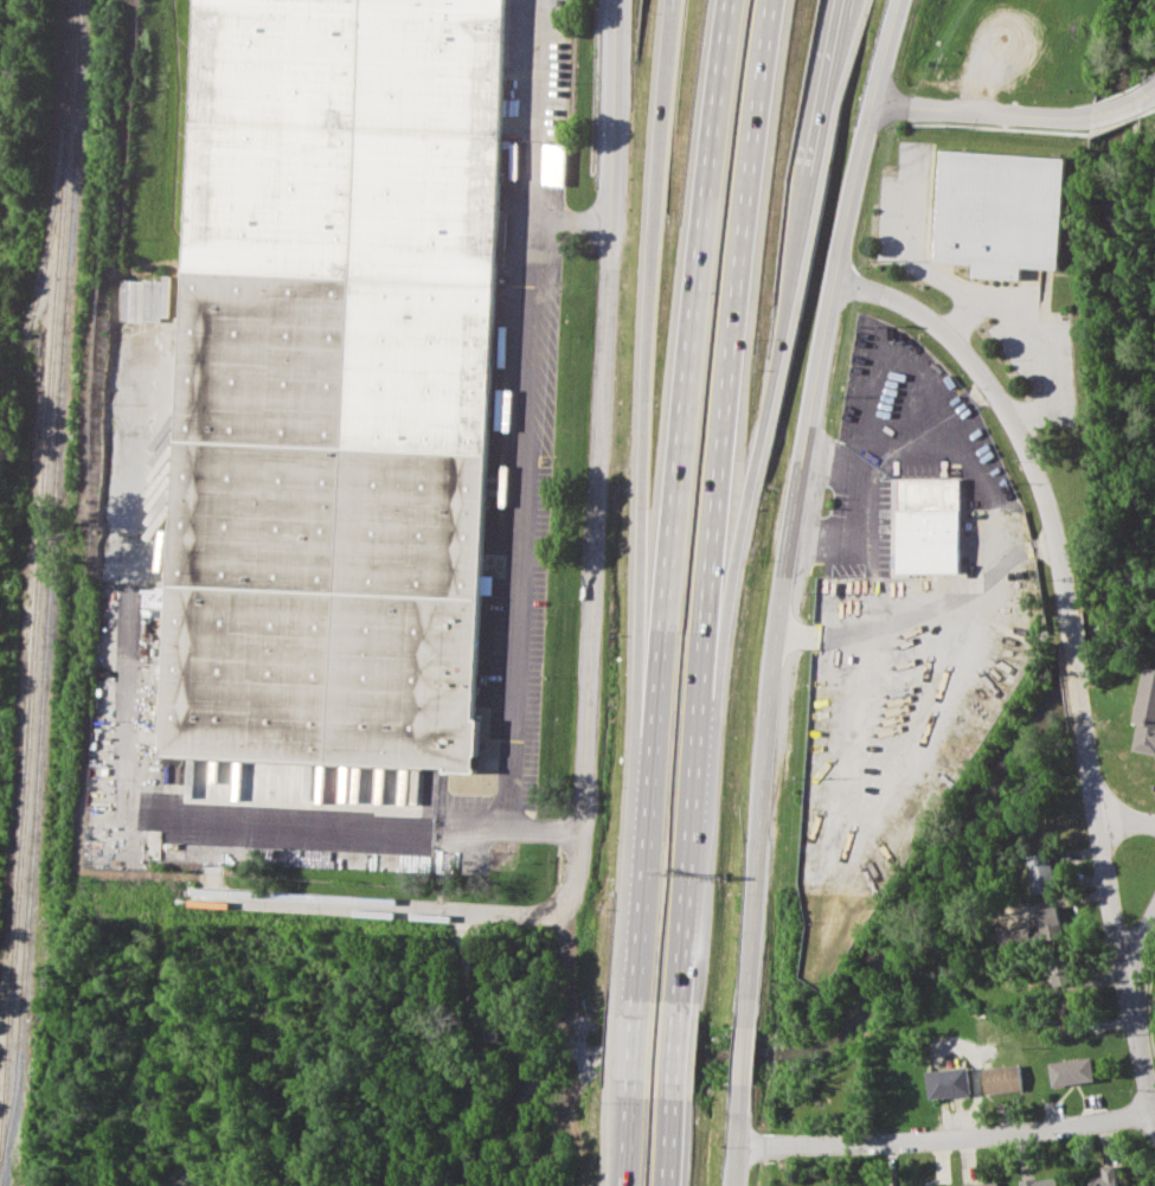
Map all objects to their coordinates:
road: (845, 17)
road: (1150, 84)
road: (1118, 101)
road: (982, 109)
building: (995, 206)
road: (566, 220)
railway: (39, 271)
road: (686, 314)
road: (727, 314)
road: (1037, 334)
building: (332, 380)
road: (1002, 408)
road: (516, 416)
road: (756, 431)
road: (596, 445)
road: (899, 447)
road: (635, 461)
road: (791, 507)
building: (928, 526)
road: (853, 537)
building: (487, 584)
railway: (46, 585)
road: (920, 614)
road: (1073, 671)
building: (1146, 712)
road: (689, 732)
river: (1018, 742)
road: (123, 776)
road: (642, 822)
road: (1124, 822)
road: (1099, 846)
road: (210, 854)
building: (1041, 872)
road: (396, 905)
road: (678, 923)
building: (1050, 923)
road: (1138, 949)
building: (1059, 970)
road: (1137, 1034)
road: (630, 1049)
road: (669, 1050)
road: (738, 1056)
building: (1072, 1071)
building: (1001, 1078)
building: (948, 1082)
road: (624, 1135)
road: (731, 1135)
road: (663, 1136)
road: (943, 1142)
building: (1106, 1177)
building: (1039, 1181)
building: (980, 1184)
building: (936, 1185)

